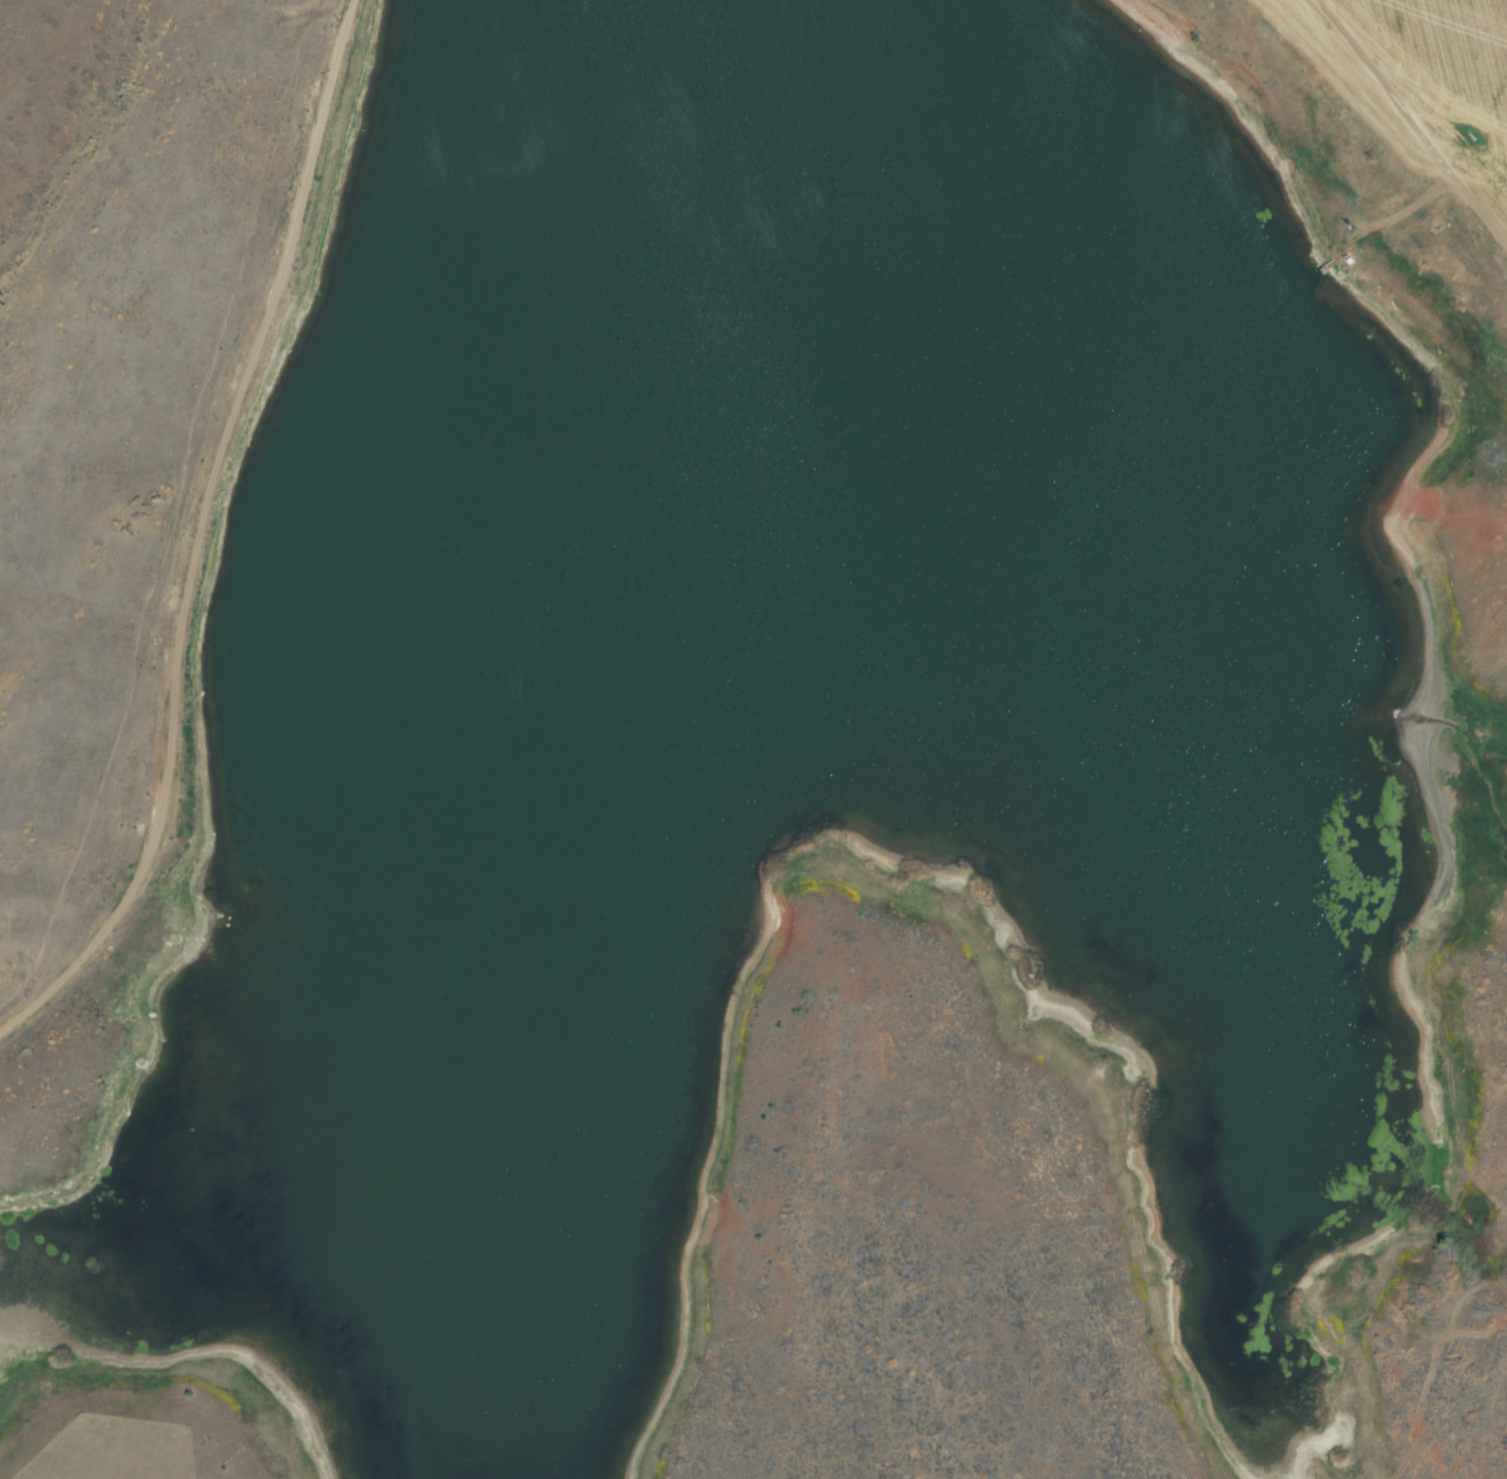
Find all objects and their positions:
crop: (1437, 84)
road: (1416, 101)
road: (182, 537)

